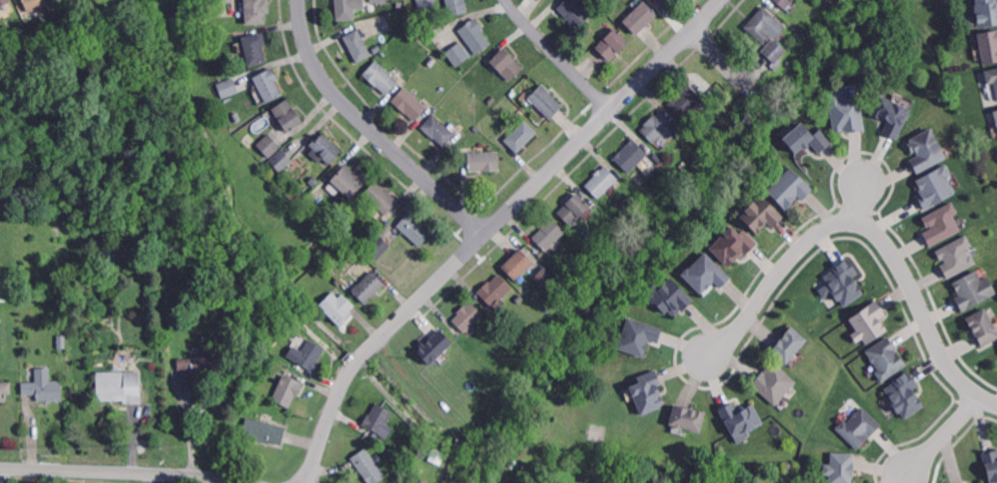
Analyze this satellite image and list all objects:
building: (4, 1)
building: (666, 2)
building: (785, 2)
building: (36, 3)
building: (400, 3)
building: (426, 3)
building: (457, 6)
building: (597, 7)
building: (257, 10)
building: (346, 10)
building: (575, 11)
building: (985, 13)
building: (640, 16)
building: (382, 22)
building: (611, 23)
building: (762, 24)
building: (802, 27)
building: (784, 30)
building: (475, 34)
building: (612, 42)
building: (358, 44)
building: (255, 47)
building: (988, 47)
building: (775, 50)
building: (384, 52)
building: (458, 53)
road: (558, 54)
building: (507, 63)
road: (727, 64)
building: (221, 74)
building: (382, 76)
building: (991, 79)
building: (486, 82)
building: (269, 83)
building: (227, 86)
building: (512, 91)
building: (686, 100)
building: (546, 101)
building: (411, 102)
building: (846, 113)
building: (289, 114)
building: (891, 116)
building: (995, 116)
building: (239, 117)
building: (659, 126)
building: (475, 127)
road: (373, 128)
building: (439, 129)
building: (521, 134)
building: (804, 138)
building: (270, 144)
building: (323, 150)
building: (926, 151)
building: (631, 155)
building: (281, 160)
building: (485, 160)
building: (636, 172)
building: (314, 180)
building: (349, 180)
building: (600, 180)
building: (934, 188)
building: (789, 190)
road: (863, 193)
building: (381, 197)
building: (304, 203)
building: (574, 208)
building: (760, 216)
building: (941, 225)
building: (415, 227)
road: (492, 227)
building: (337, 228)
building: (58, 230)
building: (549, 233)
building: (585, 234)
building: (731, 245)
building: (378, 247)
building: (346, 253)
building: (115, 254)
building: (956, 257)
building: (518, 263)
building: (705, 275)
building: (545, 277)
building: (844, 284)
building: (369, 286)
building: (495, 289)
building: (533, 290)
building: (972, 291)
building: (668, 298)
building: (338, 307)
building: (468, 316)
building: (869, 324)
building: (983, 328)
building: (636, 338)
building: (788, 345)
building: (433, 346)
building: (309, 353)
building: (885, 360)
building: (202, 363)
building: (117, 384)
building: (774, 384)
building: (43, 385)
building: (5, 389)
building: (287, 390)
building: (648, 393)
building: (904, 396)
building: (376, 416)
building: (687, 419)
building: (740, 419)
building: (242, 421)
building: (858, 428)
building: (264, 431)
road: (945, 431)
building: (435, 455)
building: (368, 466)
building: (990, 466)
building: (790, 468)
building: (840, 468)
road: (123, 472)
road: (1, 475)
road: (157, 478)
building: (409, 481)
building: (982, 482)

